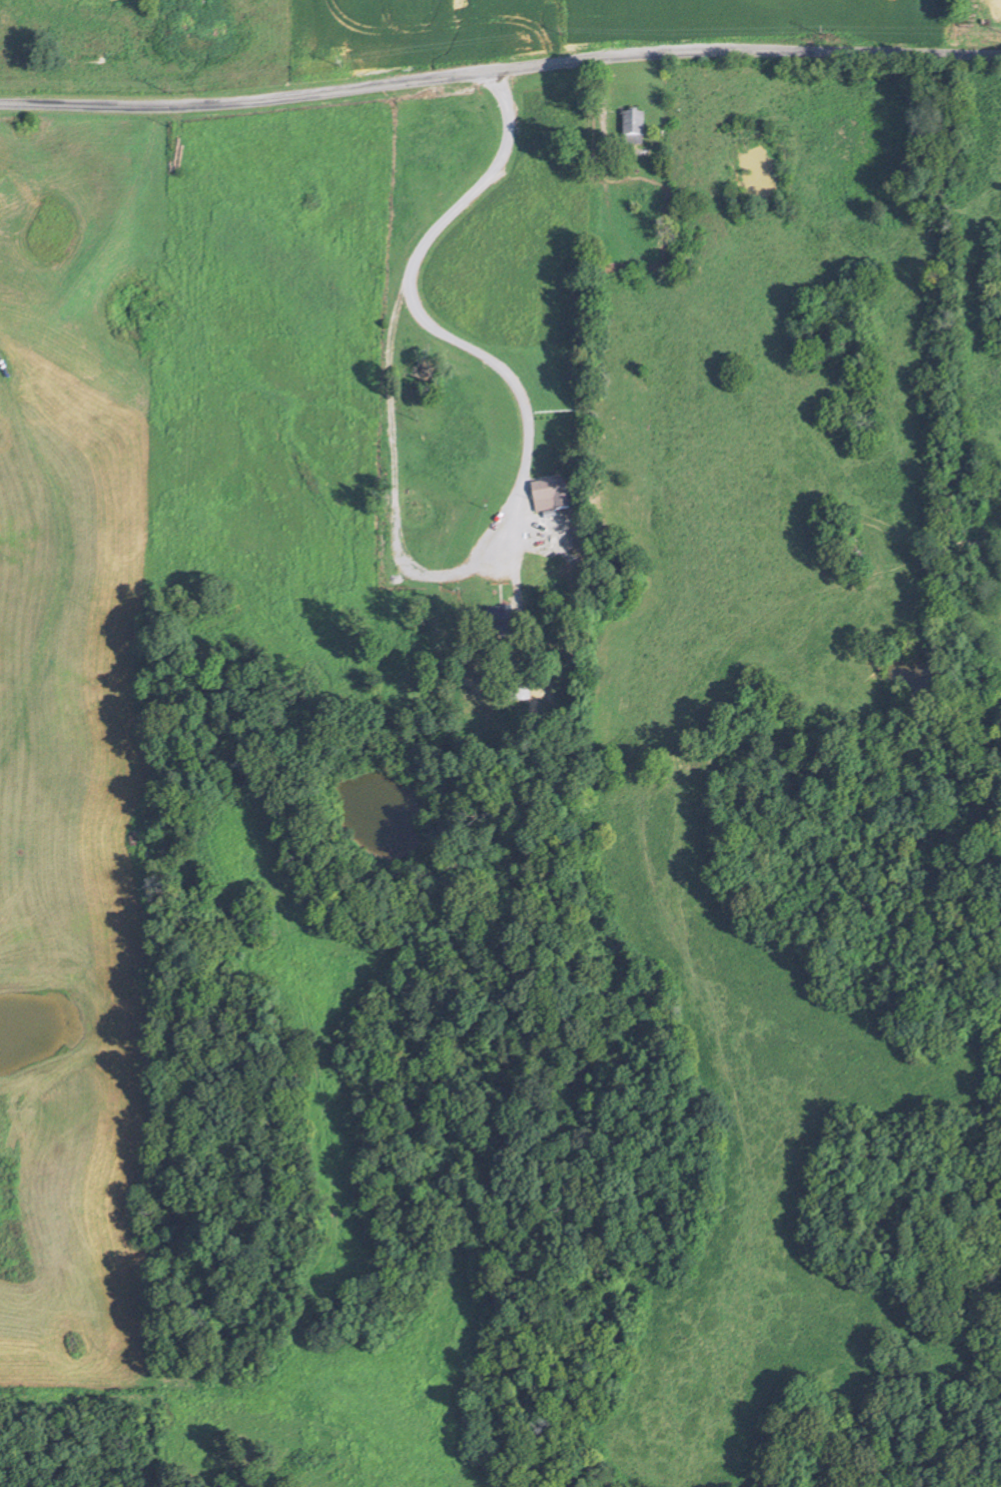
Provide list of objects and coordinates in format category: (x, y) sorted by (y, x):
road: (499, 69)
road: (602, 107)
building: (633, 126)
road: (412, 262)
building: (550, 497)
road: (521, 500)
road: (497, 521)
road: (489, 570)
road: (514, 580)
building: (497, 623)

